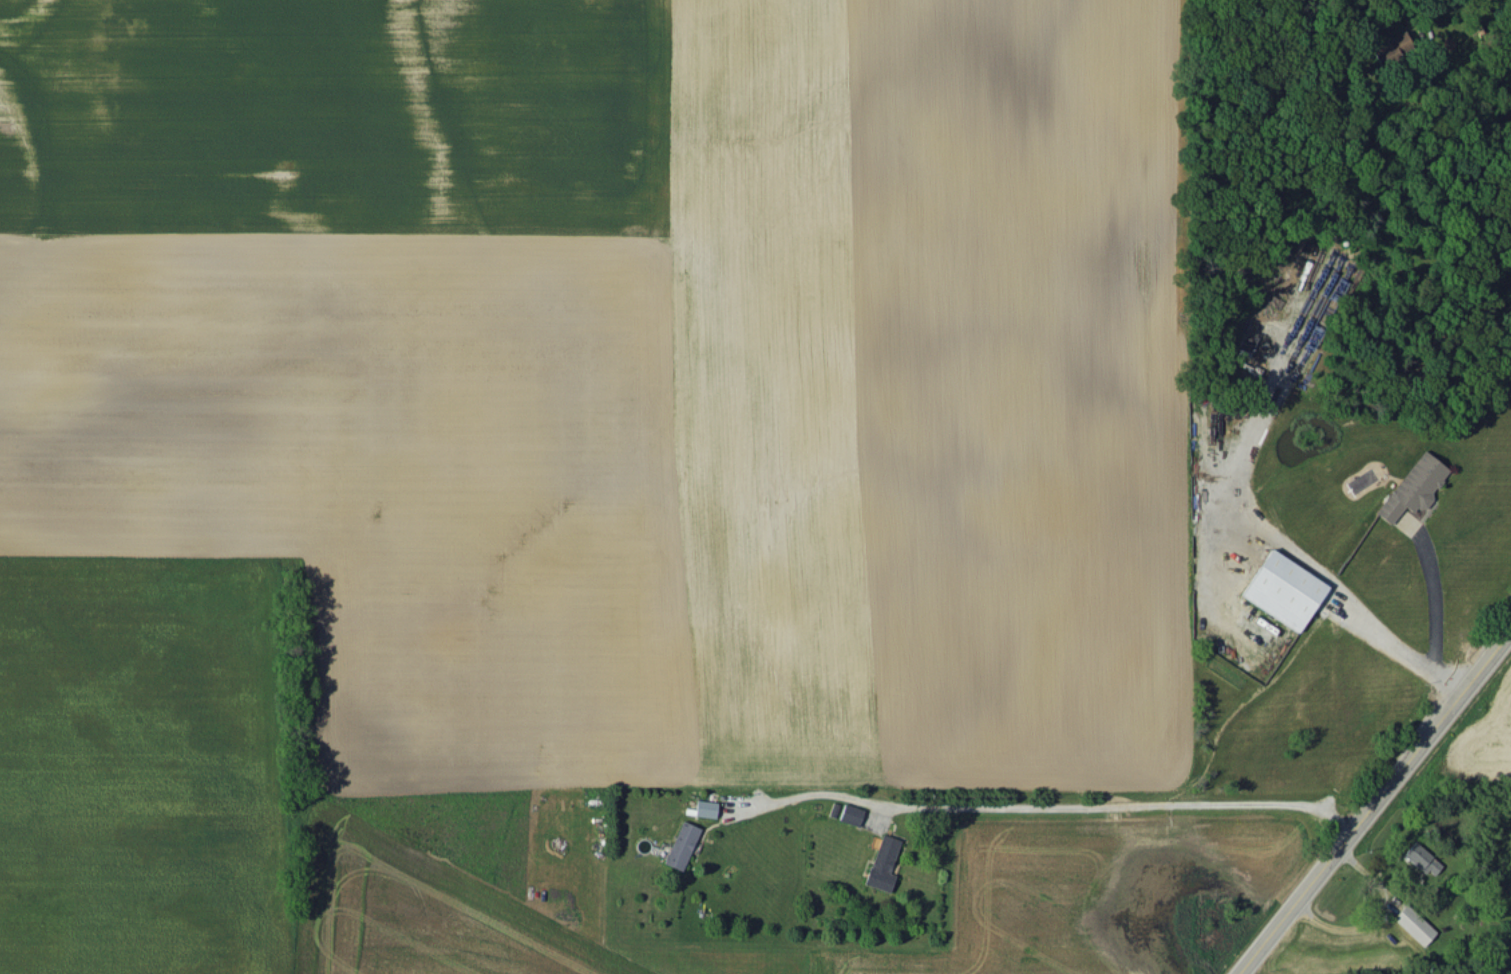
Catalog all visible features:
building: (1392, 50)
building: (1413, 487)
building: (1284, 590)
road: (1339, 595)
road: (1433, 604)
road: (1062, 797)
road: (1372, 799)
building: (705, 808)
building: (850, 814)
building: (682, 845)
building: (1423, 859)
building: (882, 863)
road: (1373, 915)
building: (1413, 925)

